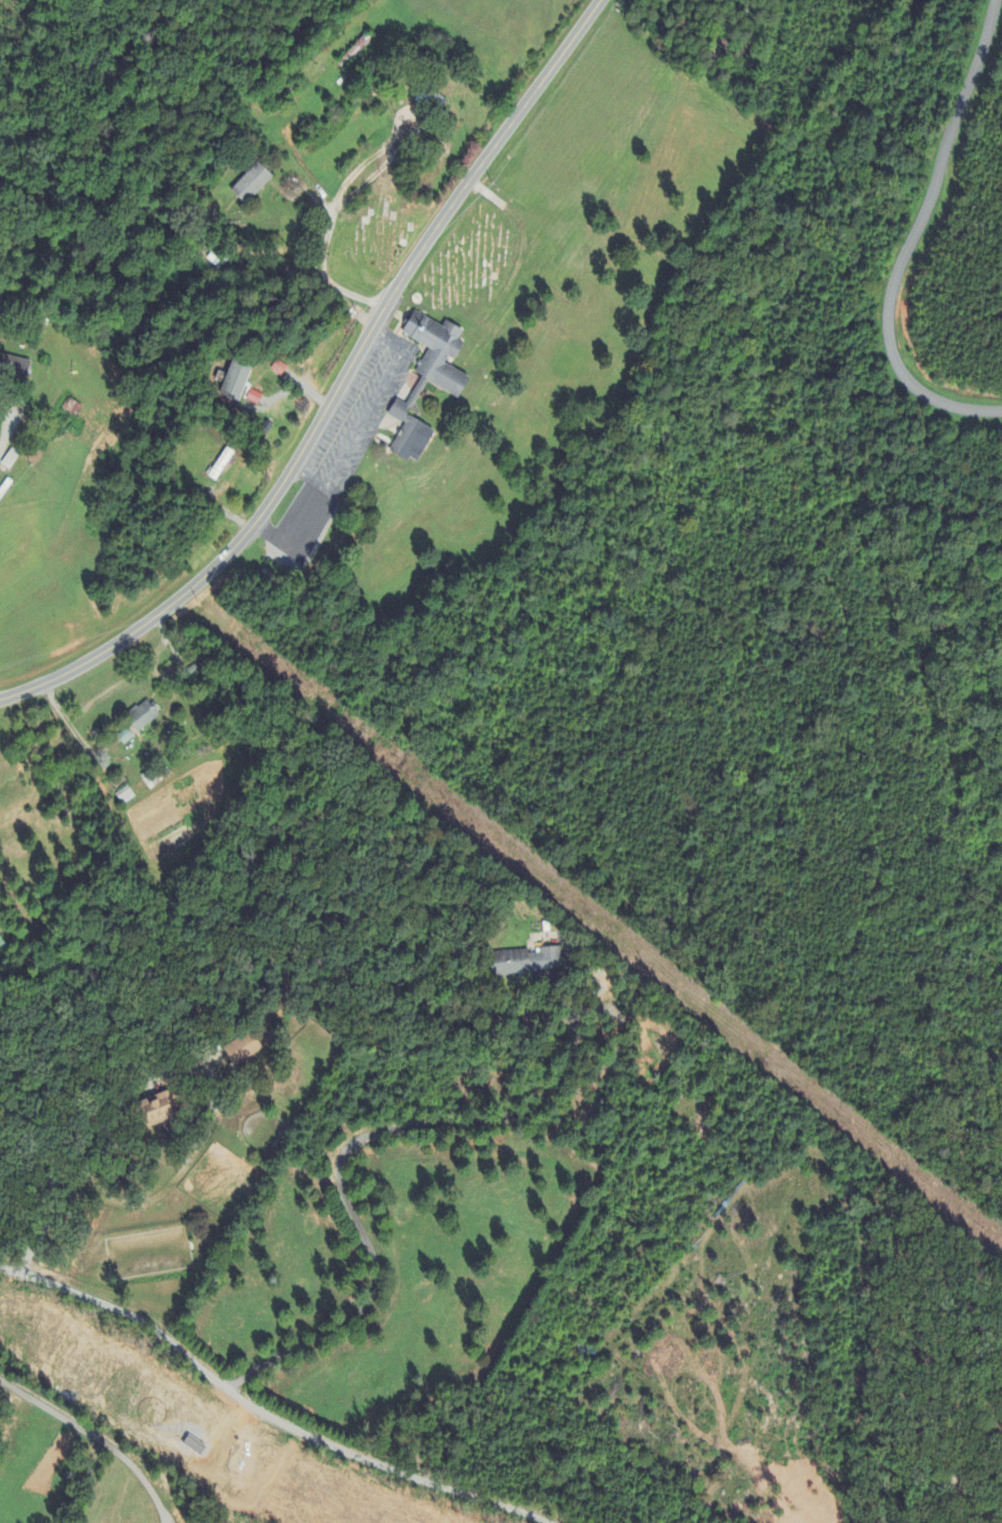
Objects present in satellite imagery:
building: (252, 184)
park: (378, 234)
road: (921, 237)
park: (479, 262)
road: (325, 272)
building: (24, 366)
building: (279, 368)
building: (429, 379)
building: (237, 381)
road: (337, 390)
building: (72, 408)
parking lot: (359, 413)
road: (366, 419)
road: (9, 423)
building: (11, 459)
building: (301, 529)
building: (143, 716)
building: (126, 737)
building: (125, 796)
road: (593, 917)
building: (1, 944)
building: (526, 962)
building: (244, 1050)
road: (183, 1065)
building: (158, 1110)
road: (340, 1159)
road: (263, 1408)
road: (98, 1435)
road: (962, 1468)

